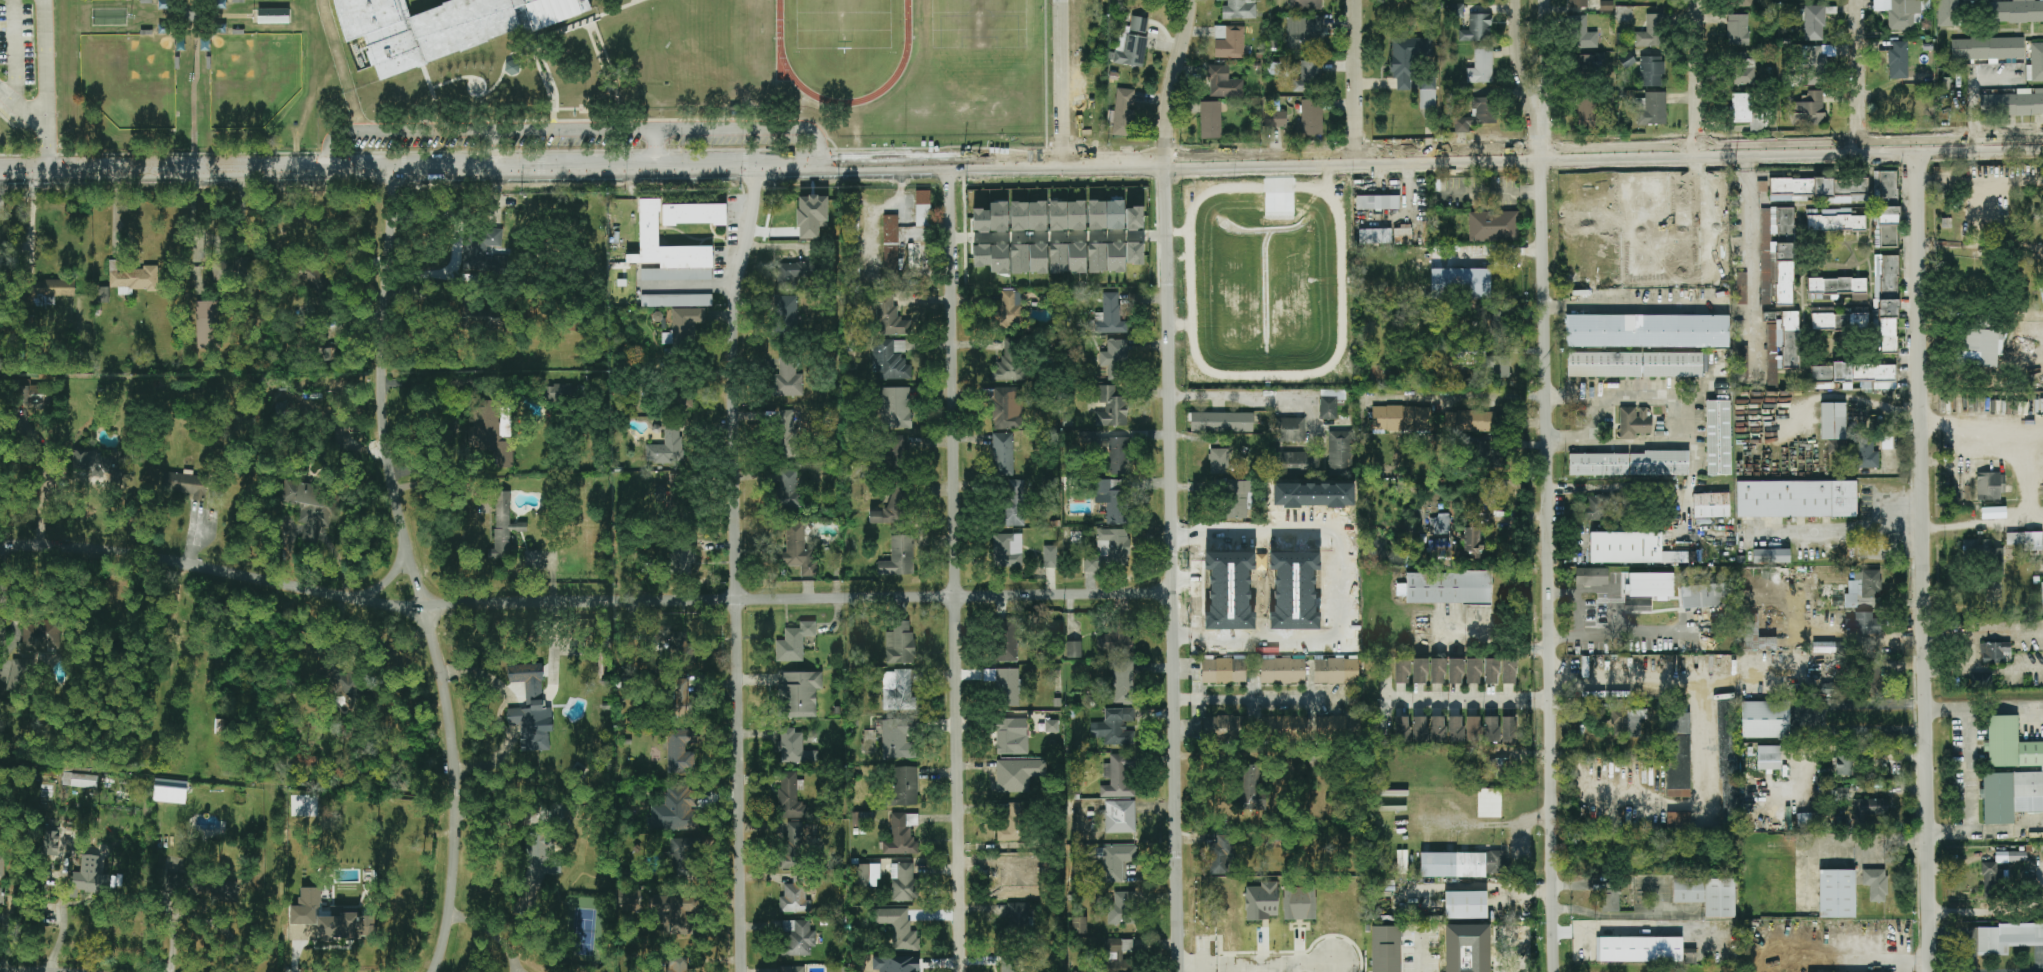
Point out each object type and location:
building: (236, 1)
road: (635, 1)
building: (142, 2)
building: (1743, 2)
building: (1577, 3)
building: (169, 4)
building: (1305, 4)
building: (210, 5)
building: (1238, 9)
building: (1456, 10)
building: (2016, 11)
building: (1900, 13)
building: (1948, 13)
building: (270, 16)
road: (587, 20)
park: (842, 23)
park: (977, 23)
building: (1814, 23)
building: (439, 26)
building: (1477, 28)
building: (1738, 29)
building: (144, 30)
building: (235, 31)
building: (172, 32)
building: (1650, 32)
building: (207, 33)
building: (1304, 33)
building: (1581, 33)
building: (1229, 42)
building: (1131, 43)
building: (1987, 48)
road: (13, 55)
track: (781, 57)
building: (1407, 58)
building: (1898, 60)
road: (1544, 61)
building: (176, 62)
road: (1520, 62)
building: (2037, 62)
building: (205, 63)
building: (1585, 65)
building: (1816, 65)
building: (1481, 66)
building: (510, 67)
road: (611, 71)
building: (1652, 71)
building: (1743, 71)
road: (1856, 72)
road: (1701, 74)
park: (251, 77)
building: (1309, 77)
park: (129, 78)
road: (1357, 78)
road: (479, 79)
road: (1172, 79)
road: (1063, 80)
road: (43, 82)
building: (1224, 83)
road: (496, 84)
road: (1974, 89)
building: (1427, 94)
road: (553, 97)
building: (2013, 103)
building: (1742, 108)
road: (585, 109)
building: (1809, 109)
building: (1653, 110)
building: (1123, 113)
building: (1478, 114)
building: (1589, 114)
building: (1312, 117)
road: (743, 119)
building: (1275, 119)
road: (548, 120)
building: (1211, 120)
road: (576, 131)
road: (1540, 137)
road: (44, 144)
road: (659, 148)
road: (492, 149)
road: (1021, 162)
building: (1762, 186)
building: (1800, 187)
building: (1850, 187)
building: (1885, 189)
road: (3, 190)
building: (1377, 202)
building: (923, 208)
road: (115, 211)
building: (694, 214)
building: (811, 215)
building: (1057, 215)
building: (1095, 215)
building: (1115, 215)
building: (998, 216)
building: (1018, 216)
building: (1037, 216)
building: (1076, 216)
building: (1134, 218)
building: (980, 220)
building: (1838, 220)
building: (1493, 226)
building: (916, 234)
road: (1058, 235)
building: (1403, 235)
building: (1375, 236)
road: (457, 241)
building: (891, 241)
building: (483, 250)
building: (668, 251)
road: (1493, 251)
building: (1135, 253)
building: (981, 254)
building: (1077, 257)
building: (1097, 257)
building: (1116, 257)
building: (999, 258)
building: (1019, 258)
building: (1038, 258)
building: (1058, 258)
road: (1751, 261)
building: (230, 270)
building: (793, 273)
building: (133, 278)
building: (315, 279)
building: (1462, 282)
building: (1837, 285)
building: (53, 287)
building: (1742, 288)
building: (2041, 292)
building: (1886, 295)
building: (676, 300)
road: (1633, 304)
building: (1009, 308)
building: (785, 315)
building: (1110, 316)
building: (889, 317)
building: (1839, 321)
building: (686, 323)
building: (208, 324)
building: (1647, 331)
building: (1781, 344)
building: (1980, 347)
building: (330, 351)
building: (1115, 359)
road: (1332, 359)
building: (890, 360)
building: (1011, 361)
building: (1484, 361)
building: (1742, 361)
building: (1635, 364)
building: (1856, 375)
building: (788, 379)
road: (425, 383)
building: (562, 392)
road: (1250, 398)
road: (1458, 399)
building: (685, 402)
building: (897, 408)
building: (1007, 408)
building: (1111, 408)
building: (1328, 408)
building: (1401, 418)
road: (1595, 419)
building: (1466, 421)
building: (1833, 421)
building: (1221, 422)
building: (1634, 422)
road: (1681, 423)
road: (1982, 428)
building: (1290, 429)
building: (490, 432)
building: (786, 434)
building: (1718, 438)
building: (667, 446)
building: (1836, 447)
building: (896, 451)
building: (1340, 453)
building: (1003, 454)
building: (1118, 455)
building: (1867, 455)
building: (1219, 460)
building: (1298, 463)
building: (1628, 464)
building: (675, 482)
building: (192, 486)
building: (1990, 486)
building: (789, 488)
building: (1288, 492)
building: (1337, 493)
building: (1112, 499)
building: (1237, 499)
building: (1796, 499)
building: (1015, 503)
building: (1711, 505)
building: (313, 509)
building: (891, 509)
building: (1442, 523)
road: (2021, 523)
road: (2034, 523)
building: (505, 525)
road: (1237, 529)
road: (1837, 538)
building: (2024, 540)
building: (1472, 542)
building: (1440, 547)
building: (1633, 549)
building: (1007, 550)
building: (1110, 550)
building: (798, 551)
building: (1983, 551)
building: (1227, 555)
building: (1298, 555)
building: (1050, 556)
building: (1771, 556)
building: (681, 557)
building: (899, 557)
road: (1927, 558)
building: (533, 559)
road: (1546, 562)
road: (1174, 566)
road: (737, 567)
road: (955, 568)
road: (414, 569)
building: (1216, 578)
building: (1281, 578)
building: (1584, 578)
road: (386, 579)
building: (1649, 585)
building: (1863, 587)
building: (1447, 588)
road: (1603, 590)
building: (1994, 591)
building: (1702, 595)
road: (584, 602)
road: (1249, 613)
road: (1579, 613)
building: (1864, 623)
road: (1985, 633)
road: (1633, 634)
building: (1752, 634)
building: (1118, 636)
building: (41, 637)
building: (1010, 638)
building: (794, 642)
building: (1281, 643)
building: (900, 644)
building: (677, 645)
building: (1827, 647)
building: (1073, 649)
building: (1994, 651)
building: (1224, 671)
building: (1283, 671)
building: (1336, 671)
building: (1402, 671)
building: (1419, 671)
building: (1438, 671)
building: (1456, 671)
building: (1473, 671)
building: (1491, 671)
building: (1509, 671)
road: (1985, 671)
building: (19, 675)
building: (1871, 676)
building: (1981, 680)
building: (1123, 683)
building: (1009, 686)
building: (900, 689)
building: (351, 691)
building: (800, 693)
road: (1459, 699)
building: (1352, 700)
road: (1537, 700)
road: (1245, 701)
road: (1864, 704)
building: (531, 709)
road: (2004, 710)
road: (500, 713)
building: (1619, 717)
building: (1765, 719)
building: (1634, 723)
building: (1051, 726)
building: (1225, 726)
building: (1335, 726)
building: (1115, 727)
building: (1509, 728)
building: (1401, 729)
building: (1419, 729)
building: (1437, 729)
building: (1455, 729)
building: (1473, 729)
road: (1702, 732)
building: (1012, 736)
building: (896, 738)
building: (1725, 738)
building: (794, 747)
building: (680, 751)
building: (1678, 754)
building: (1769, 757)
building: (1843, 765)
road: (1967, 771)
building: (2011, 773)
building: (1018, 774)
building: (1118, 777)
building: (80, 780)
building: (904, 786)
building: (1251, 789)
building: (1843, 793)
building: (790, 796)
building: (1489, 803)
building: (1869, 809)
building: (677, 810)
building: (1120, 817)
building: (1803, 819)
building: (1678, 820)
building: (1012, 823)
road: (1483, 824)
road: (2008, 831)
building: (902, 836)
road: (1848, 840)
building: (54, 843)
building: (793, 847)
building: (1220, 855)
building: (682, 857)
building: (2010, 857)
building: (540, 860)
building: (1117, 862)
building: (1463, 864)
building: (2, 868)
building: (866, 875)
building: (90, 876)
building: (1990, 877)
building: (1010, 878)
building: (903, 882)
building: (1876, 884)
building: (1837, 893)
building: (1707, 895)
building: (2, 896)
building: (1610, 898)
building: (631, 899)
building: (794, 899)
building: (1261, 901)
building: (1299, 903)
building: (1465, 905)
road: (62, 906)
building: (306, 907)
building: (1123, 909)
building: (677, 912)
building: (1018, 914)
building: (343, 923)
building: (1079, 925)
building: (899, 929)
road: (495, 930)
building: (797, 938)
building: (2007, 938)
building: (1968, 941)
building: (1467, 948)
building: (1386, 949)
building: (1639, 949)
building: (1117, 955)
building: (1689, 956)
building: (678, 964)
road: (1257, 965)
building: (793, 969)
building: (1020, 971)

